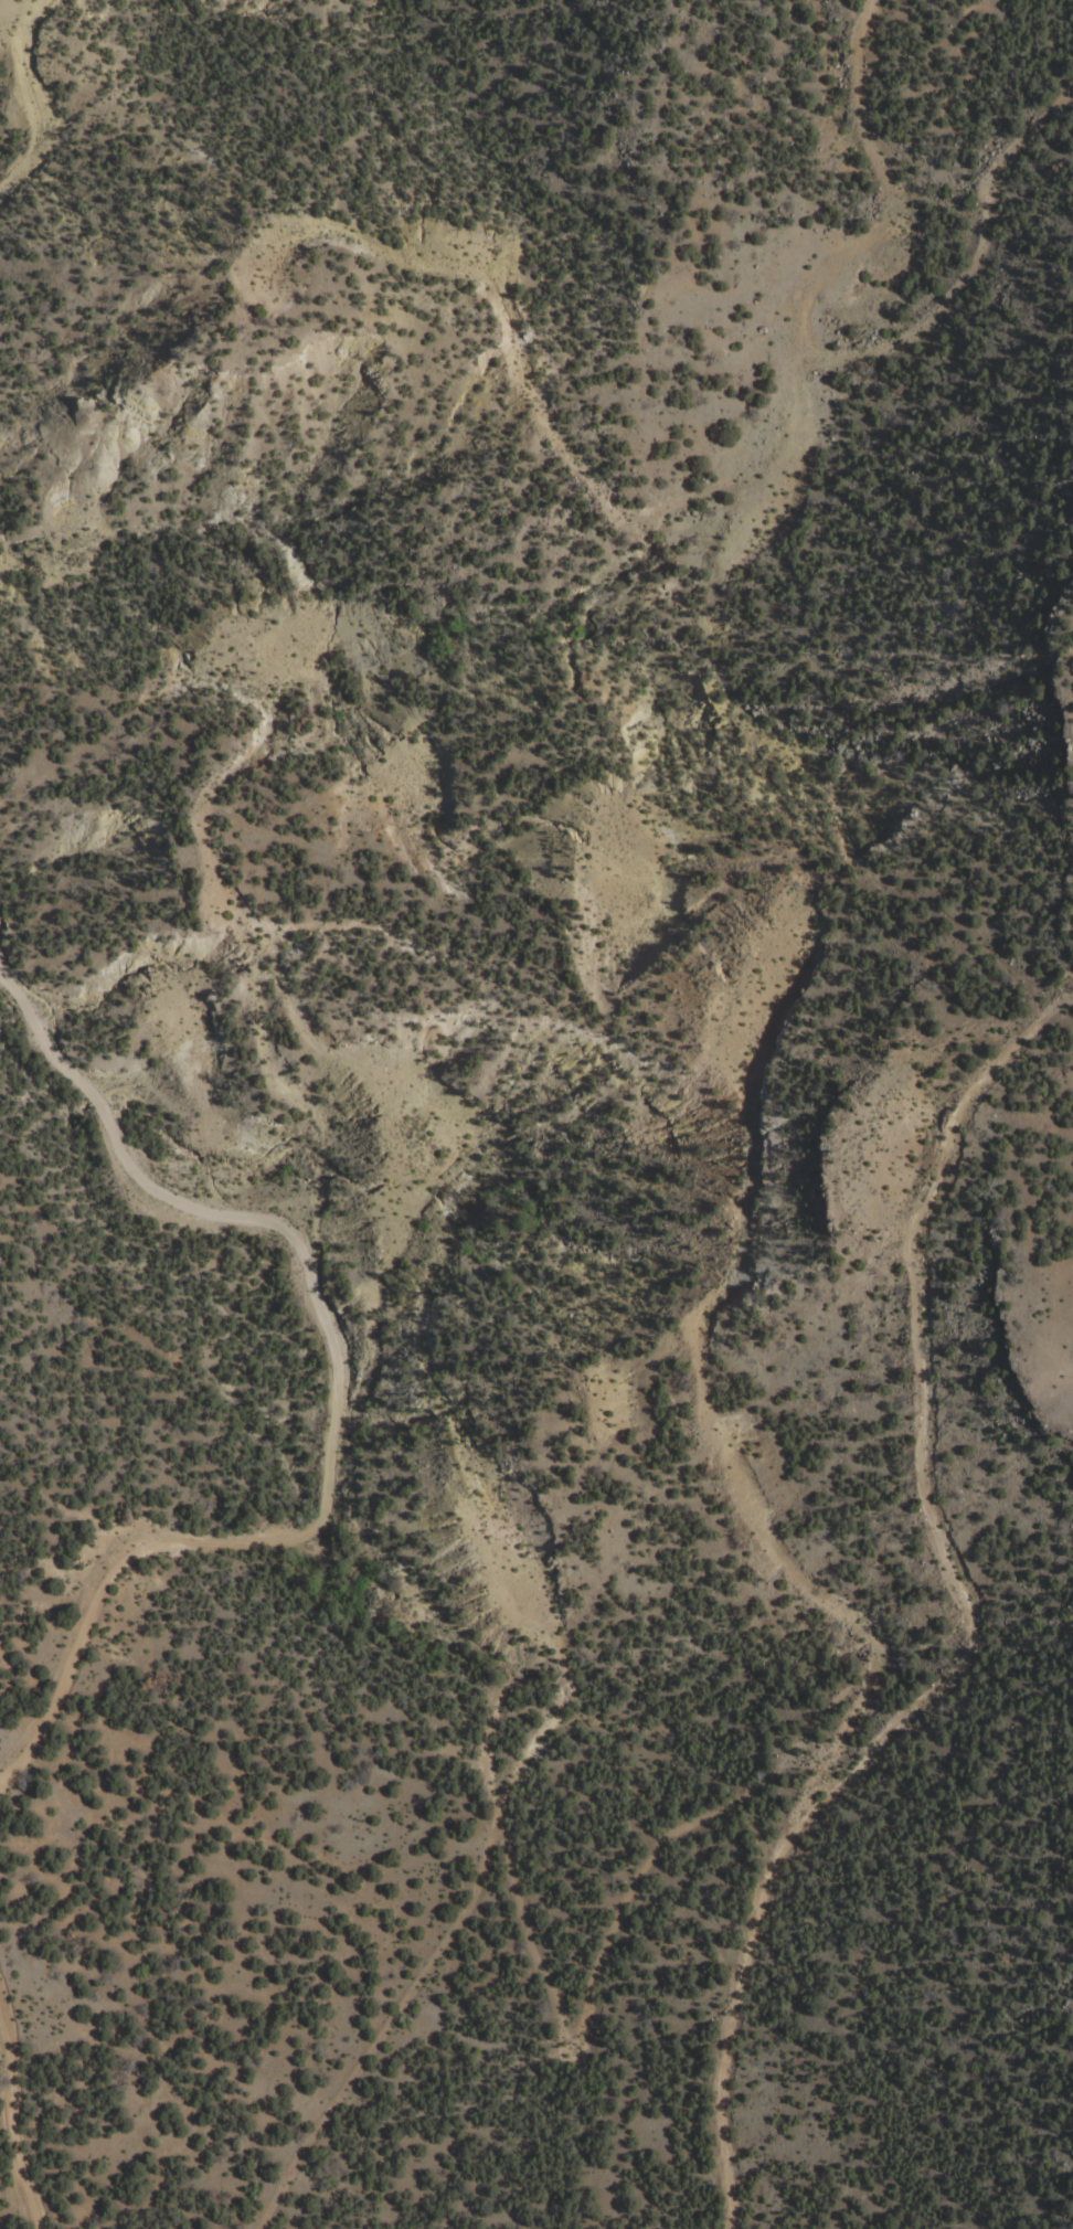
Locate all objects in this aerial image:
road: (36, 134)
road: (794, 347)
road: (259, 1446)
road: (946, 1637)
road: (18, 1824)

